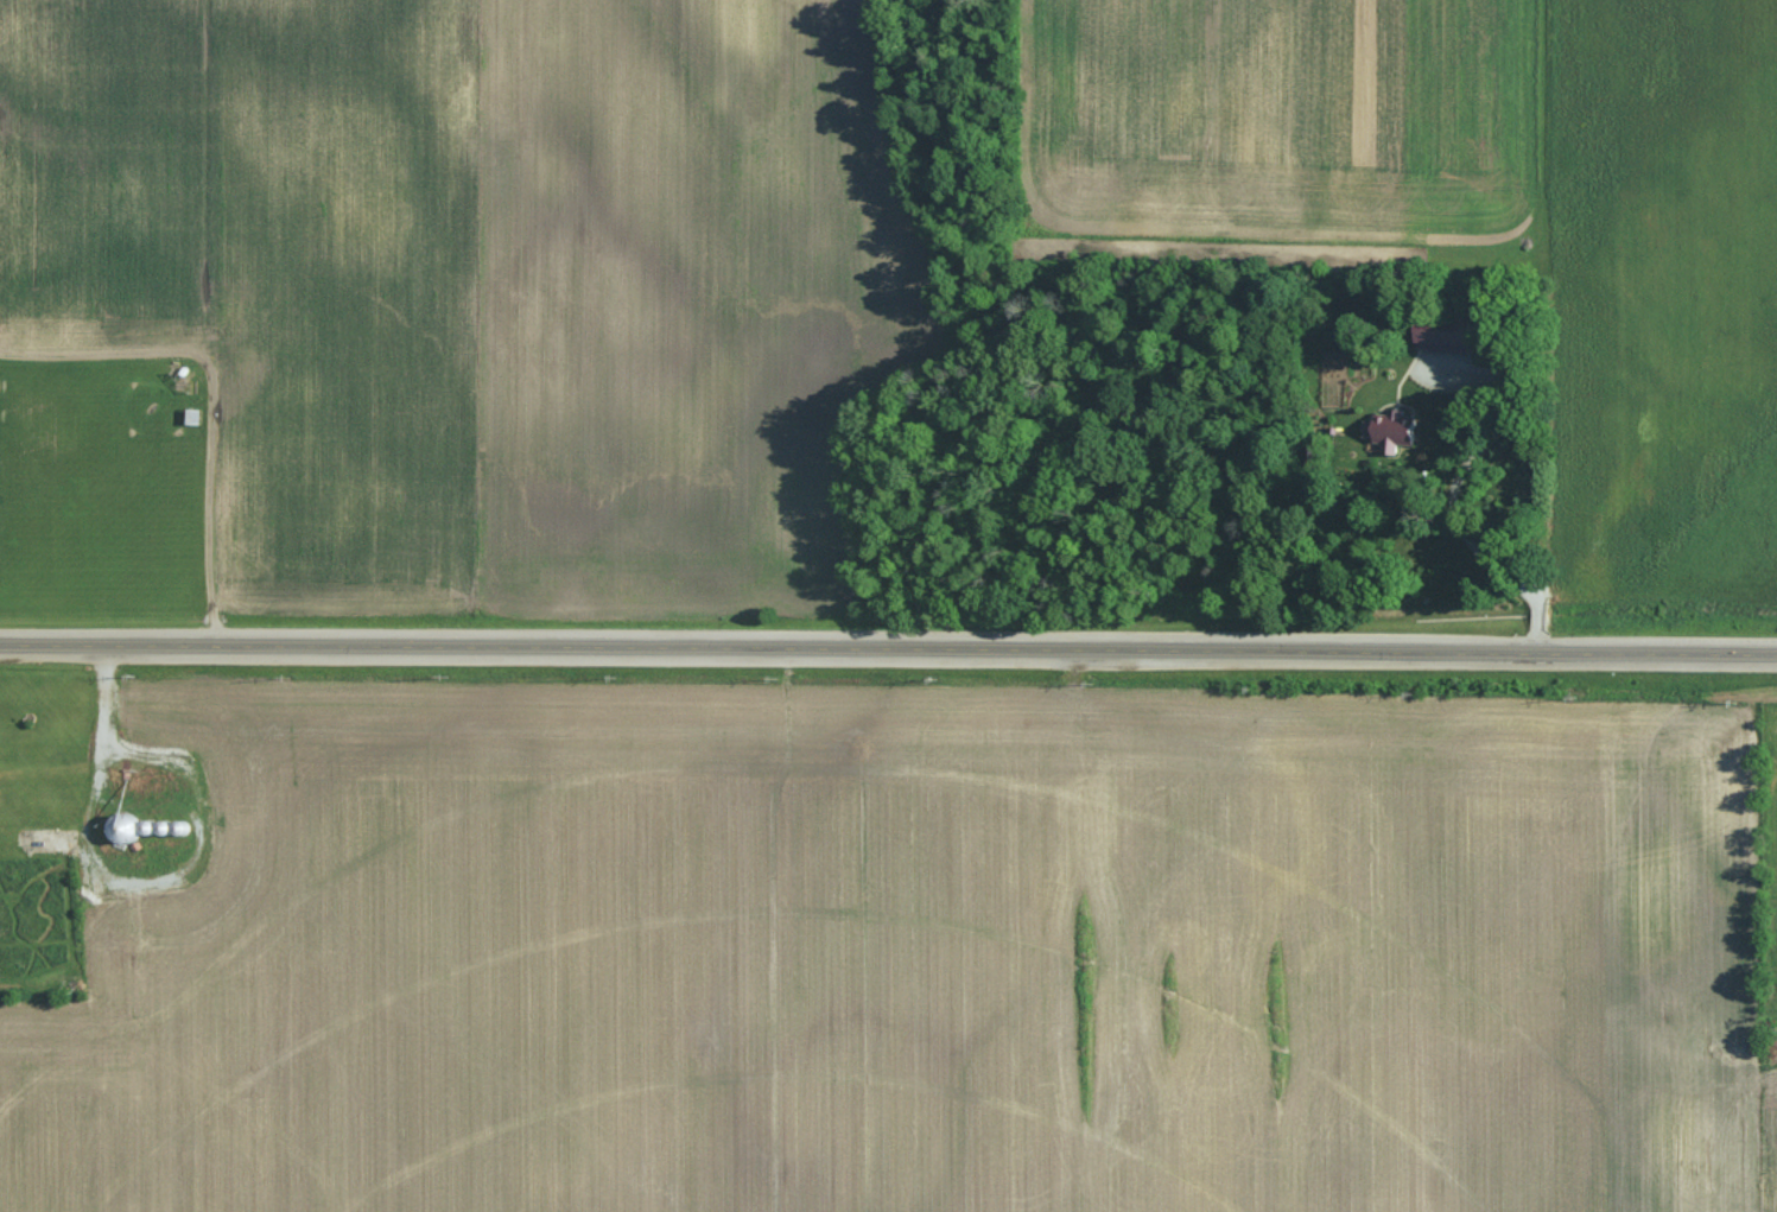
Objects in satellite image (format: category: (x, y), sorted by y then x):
building: (1434, 331)
building: (1386, 429)
road: (1454, 494)
road: (888, 647)
building: (129, 827)

